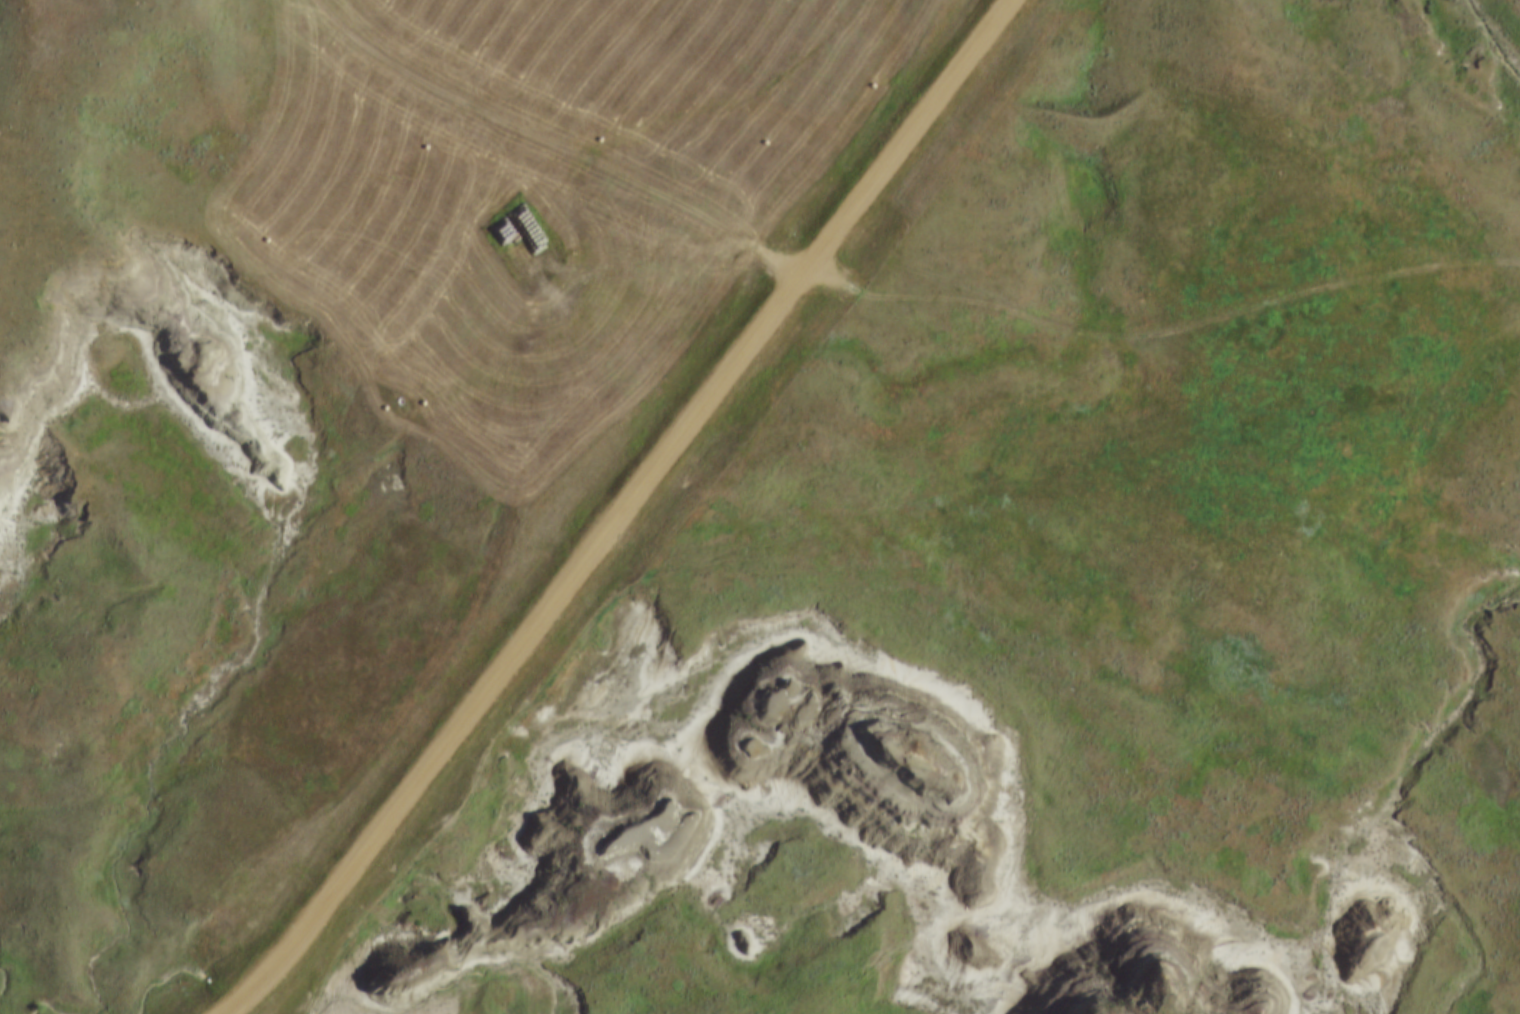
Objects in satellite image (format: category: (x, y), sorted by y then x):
road: (652, 166)
road: (1171, 329)
road: (622, 510)

